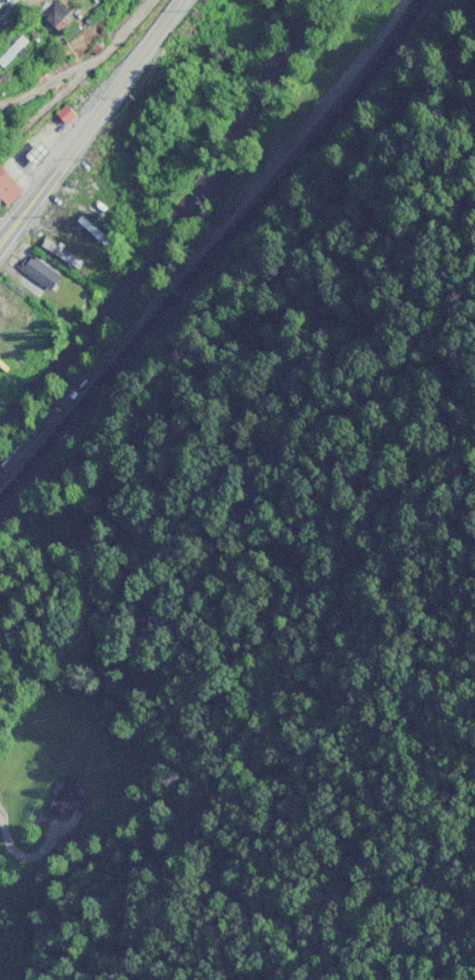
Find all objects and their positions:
building: (85, 0)
road: (11, 13)
building: (56, 14)
building: (15, 51)
road: (80, 78)
building: (69, 114)
road: (95, 123)
building: (41, 154)
building: (9, 187)
building: (64, 253)
railway: (211, 256)
railway: (216, 262)
building: (42, 272)
building: (67, 797)
road: (385, 901)

